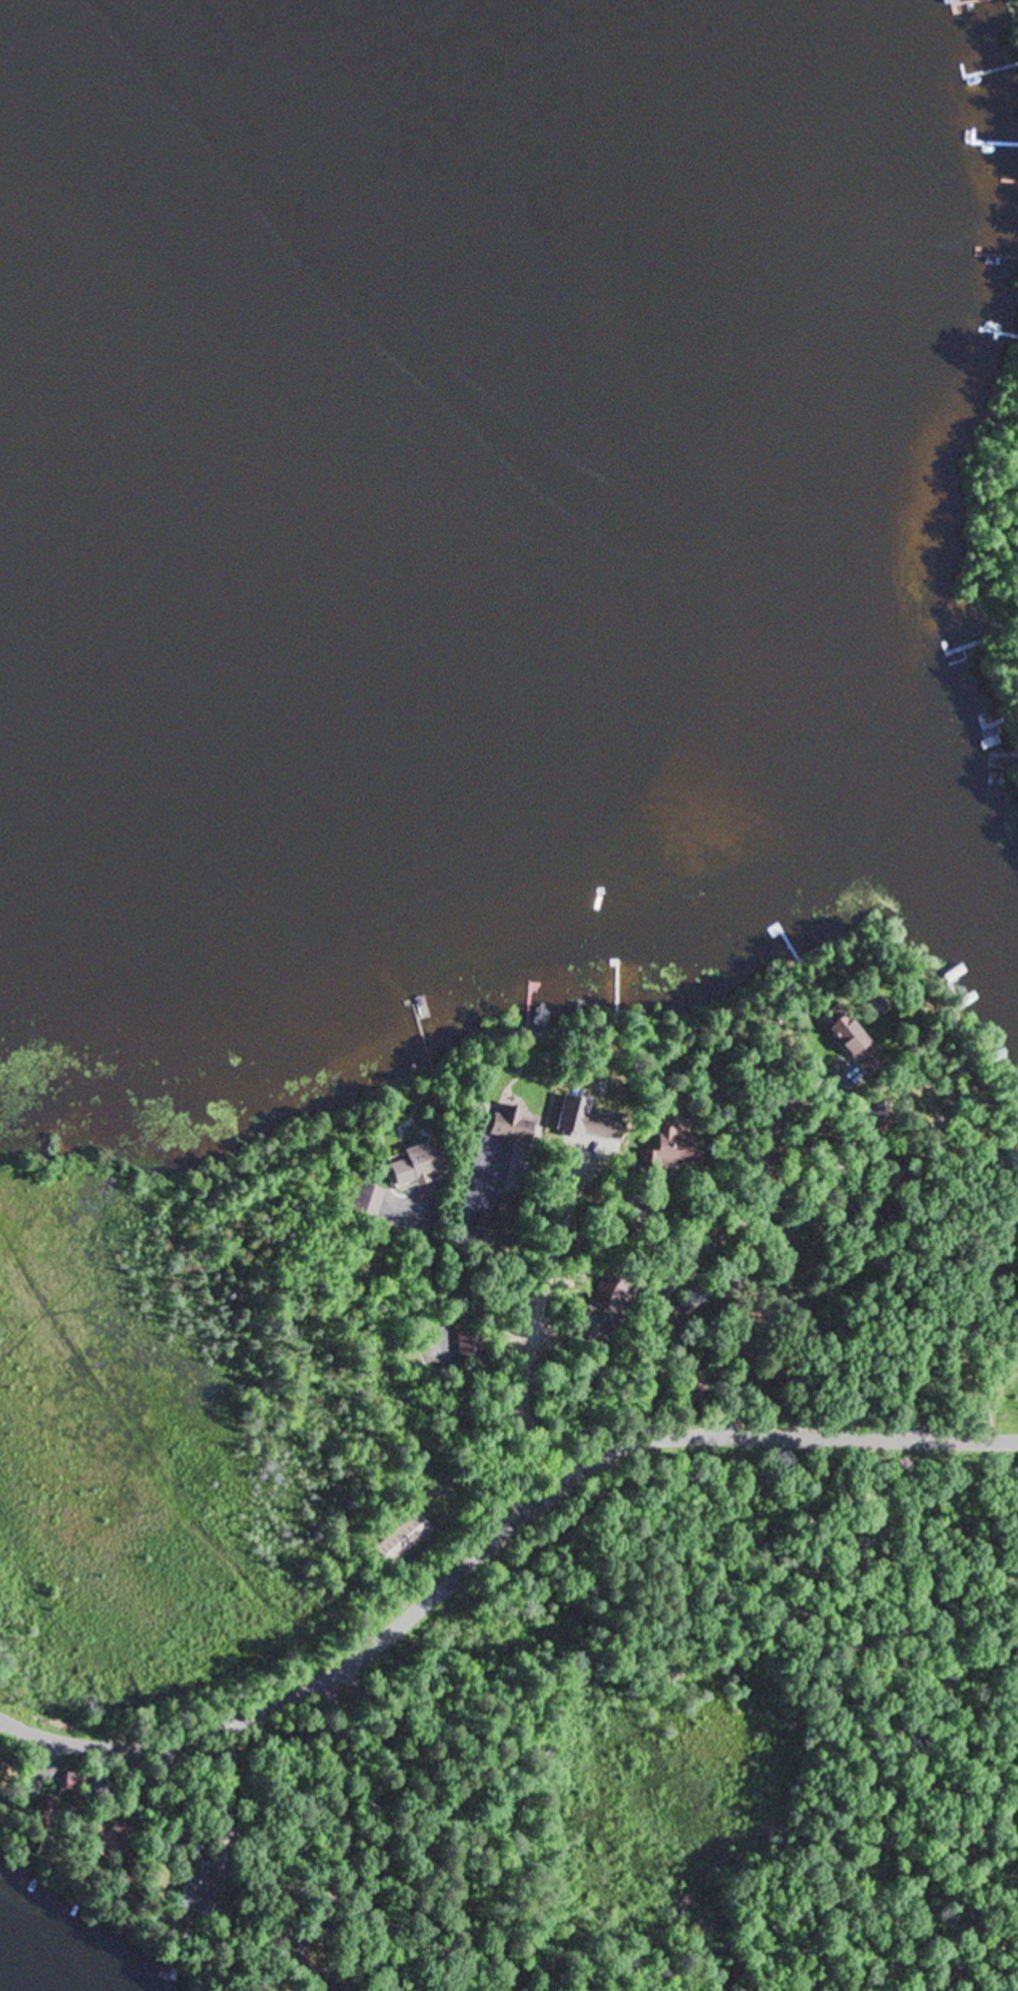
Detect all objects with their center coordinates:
river: (461, 521)
building: (850, 1043)
building: (503, 1125)
building: (670, 1151)
building: (407, 1164)
building: (363, 1202)
building: (488, 1224)
road: (813, 1254)
road: (643, 1270)
road: (945, 1330)
building: (465, 1348)
road: (489, 1540)
building: (401, 1542)
building: (97, 1837)
building: (195, 1900)

